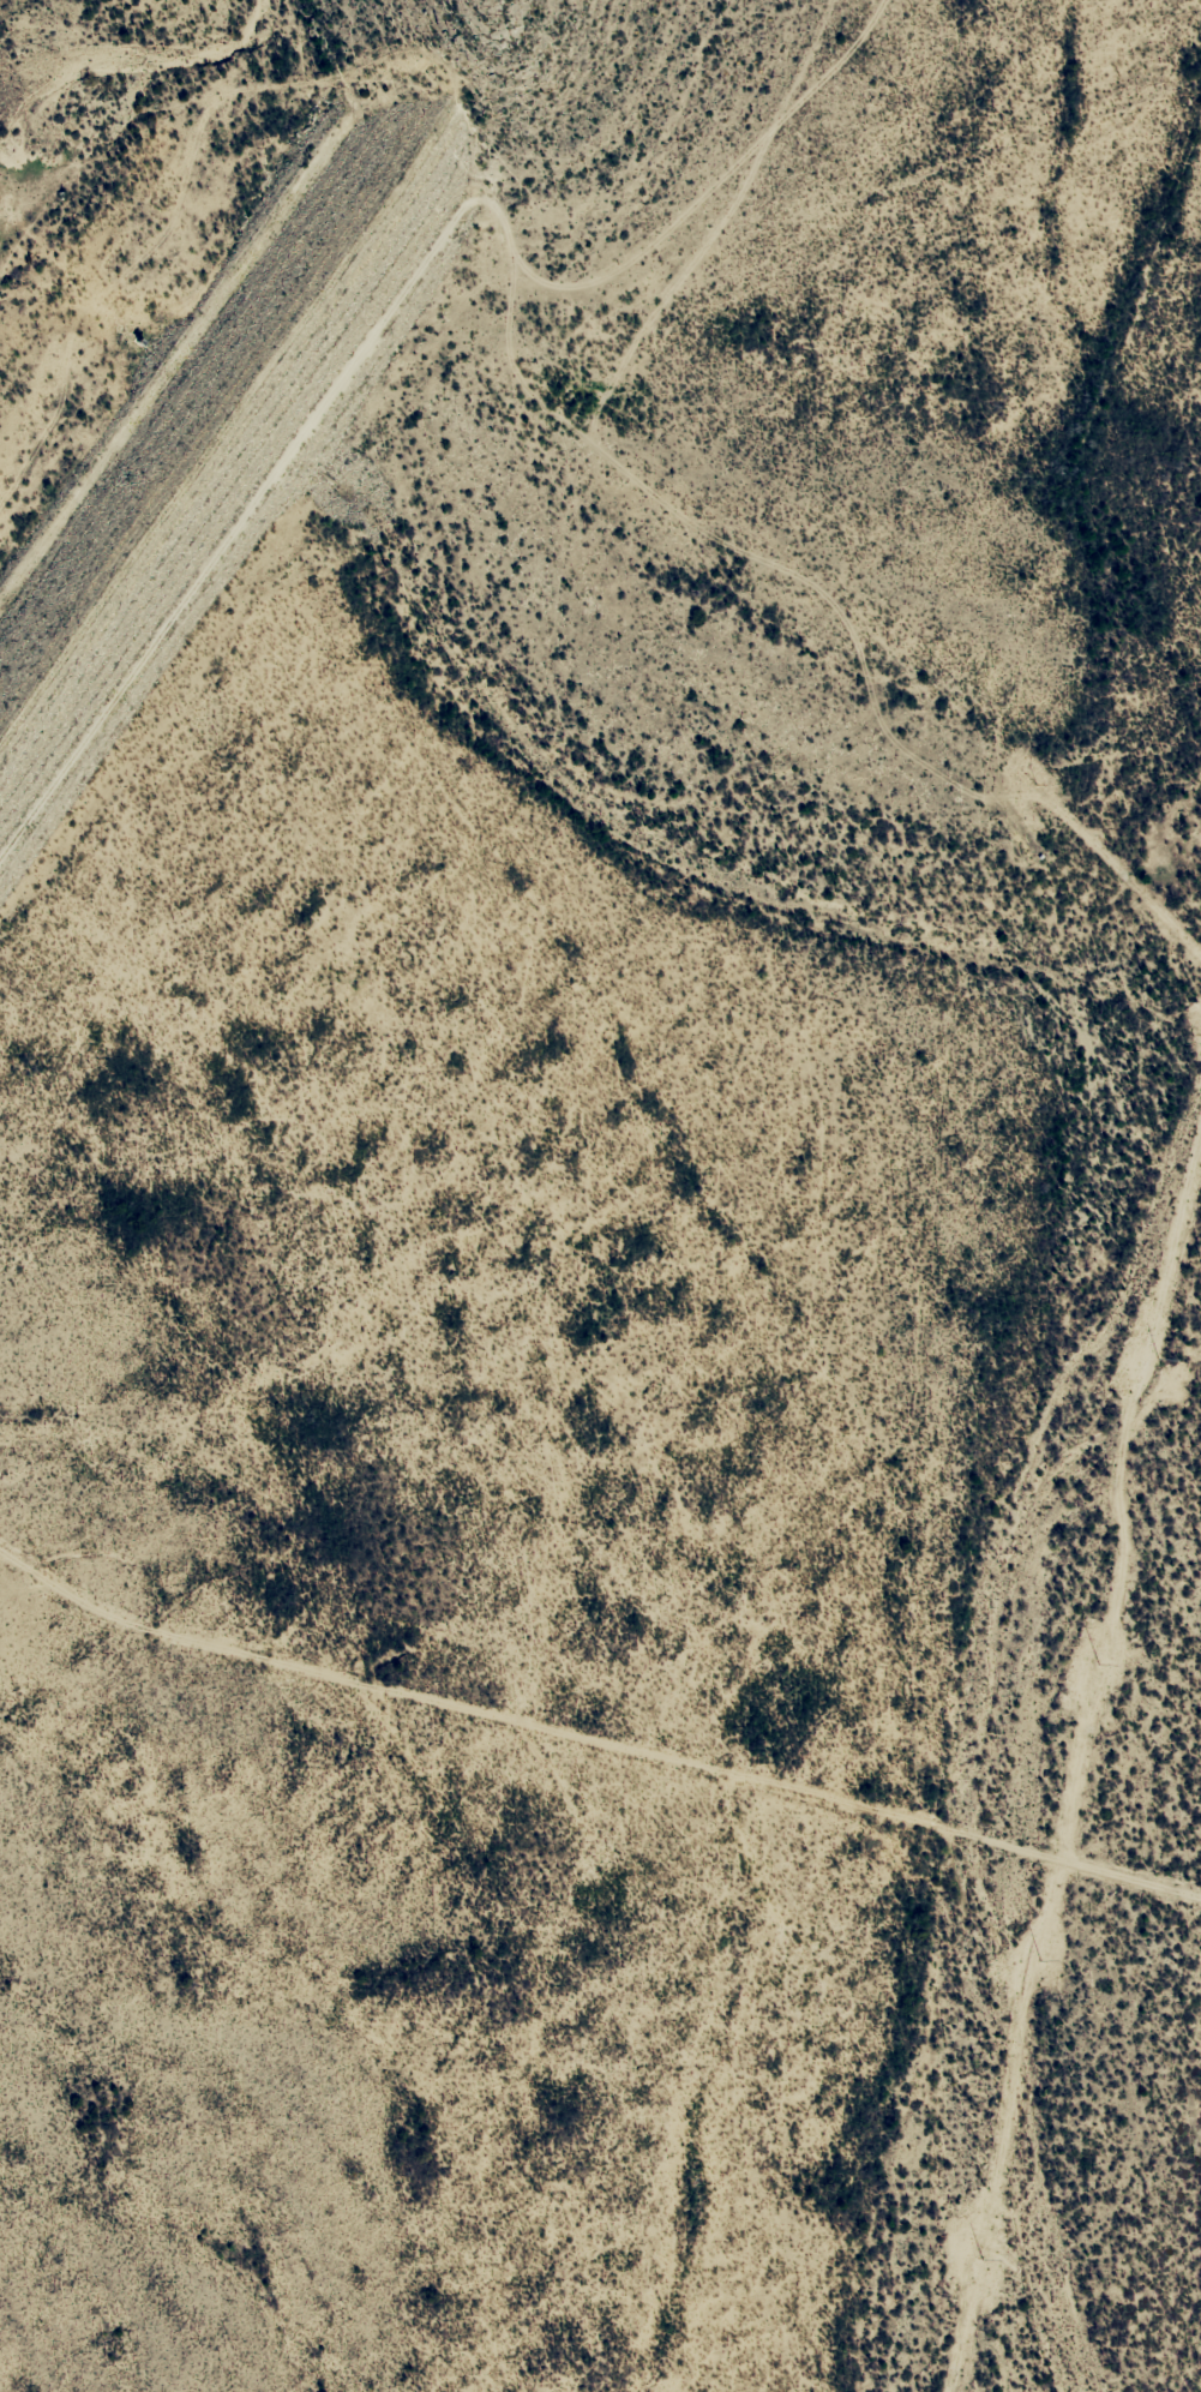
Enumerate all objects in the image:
road: (406, 284)
road: (593, 1739)

